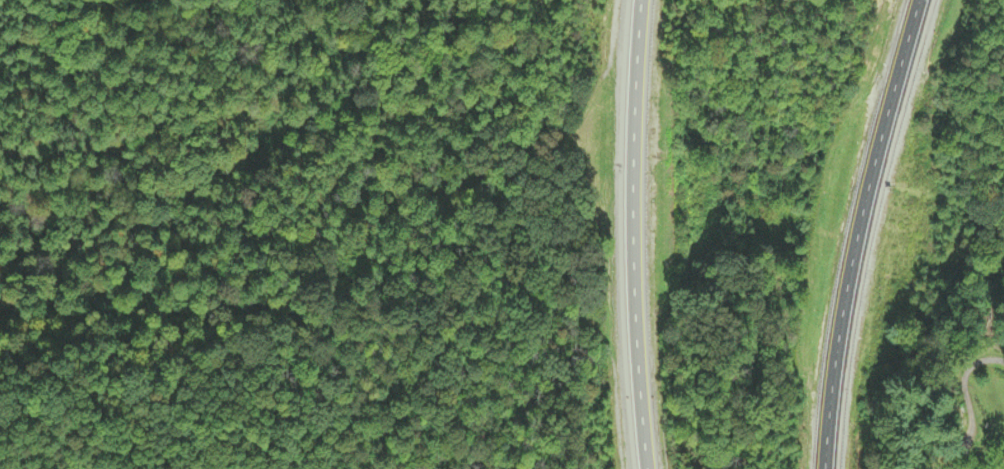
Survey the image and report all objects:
road: (857, 231)
road: (632, 234)
road: (971, 374)

